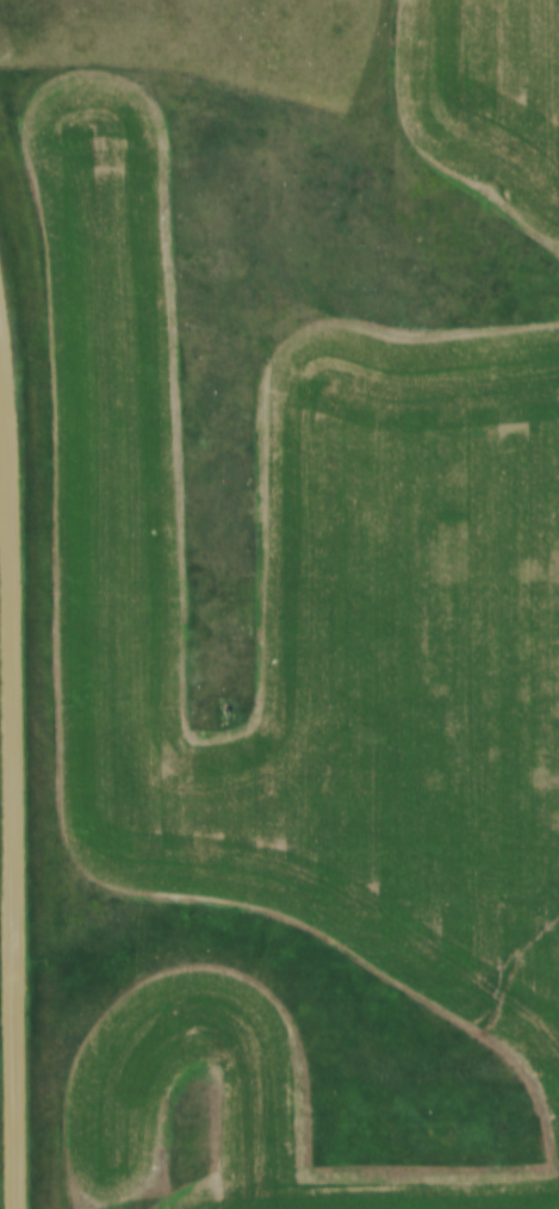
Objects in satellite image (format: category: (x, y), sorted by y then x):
road: (12, 767)

